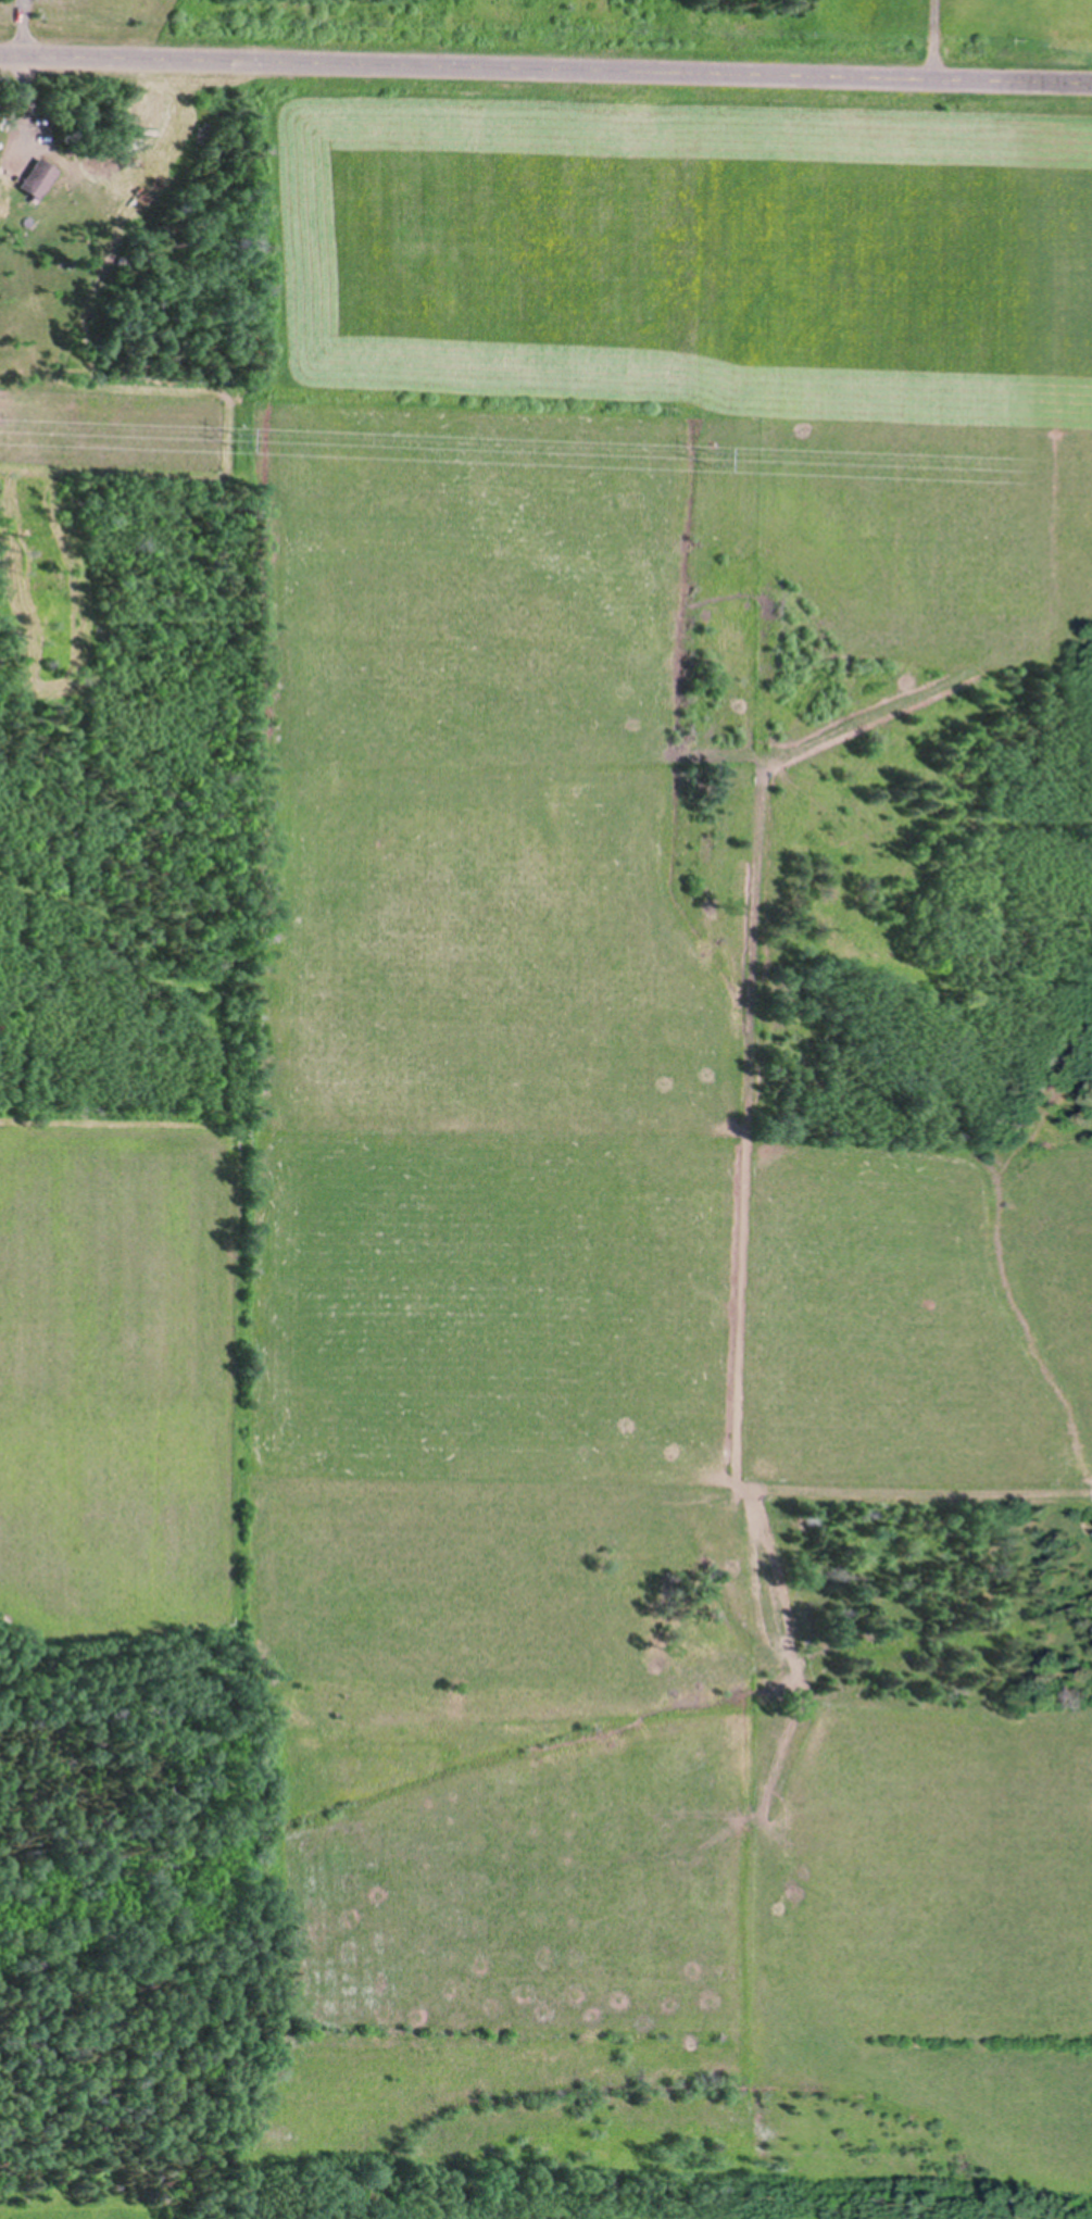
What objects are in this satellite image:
road: (545, 84)
building: (148, 108)
building: (40, 178)
power tower: (229, 439)
power tower: (705, 456)

